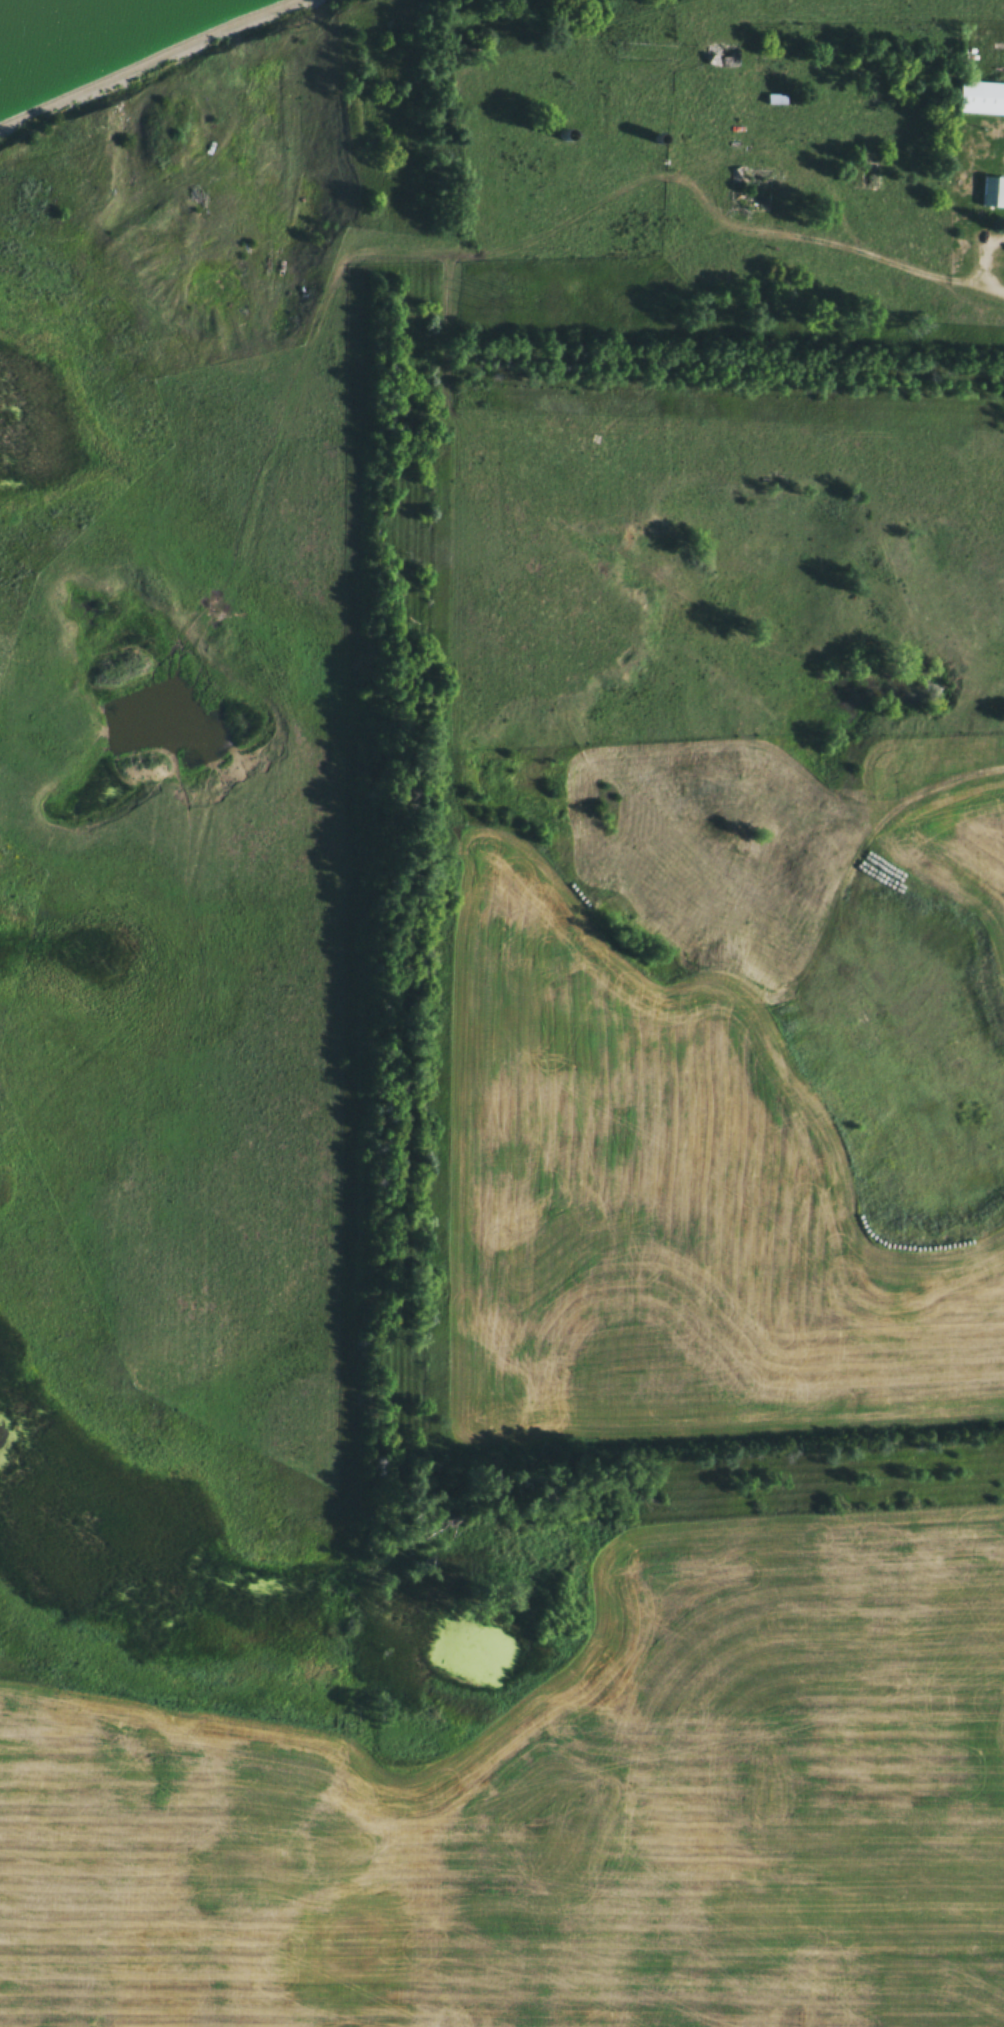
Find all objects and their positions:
building: (980, 98)
building: (775, 99)
building: (993, 192)
road: (993, 264)
road: (881, 824)

